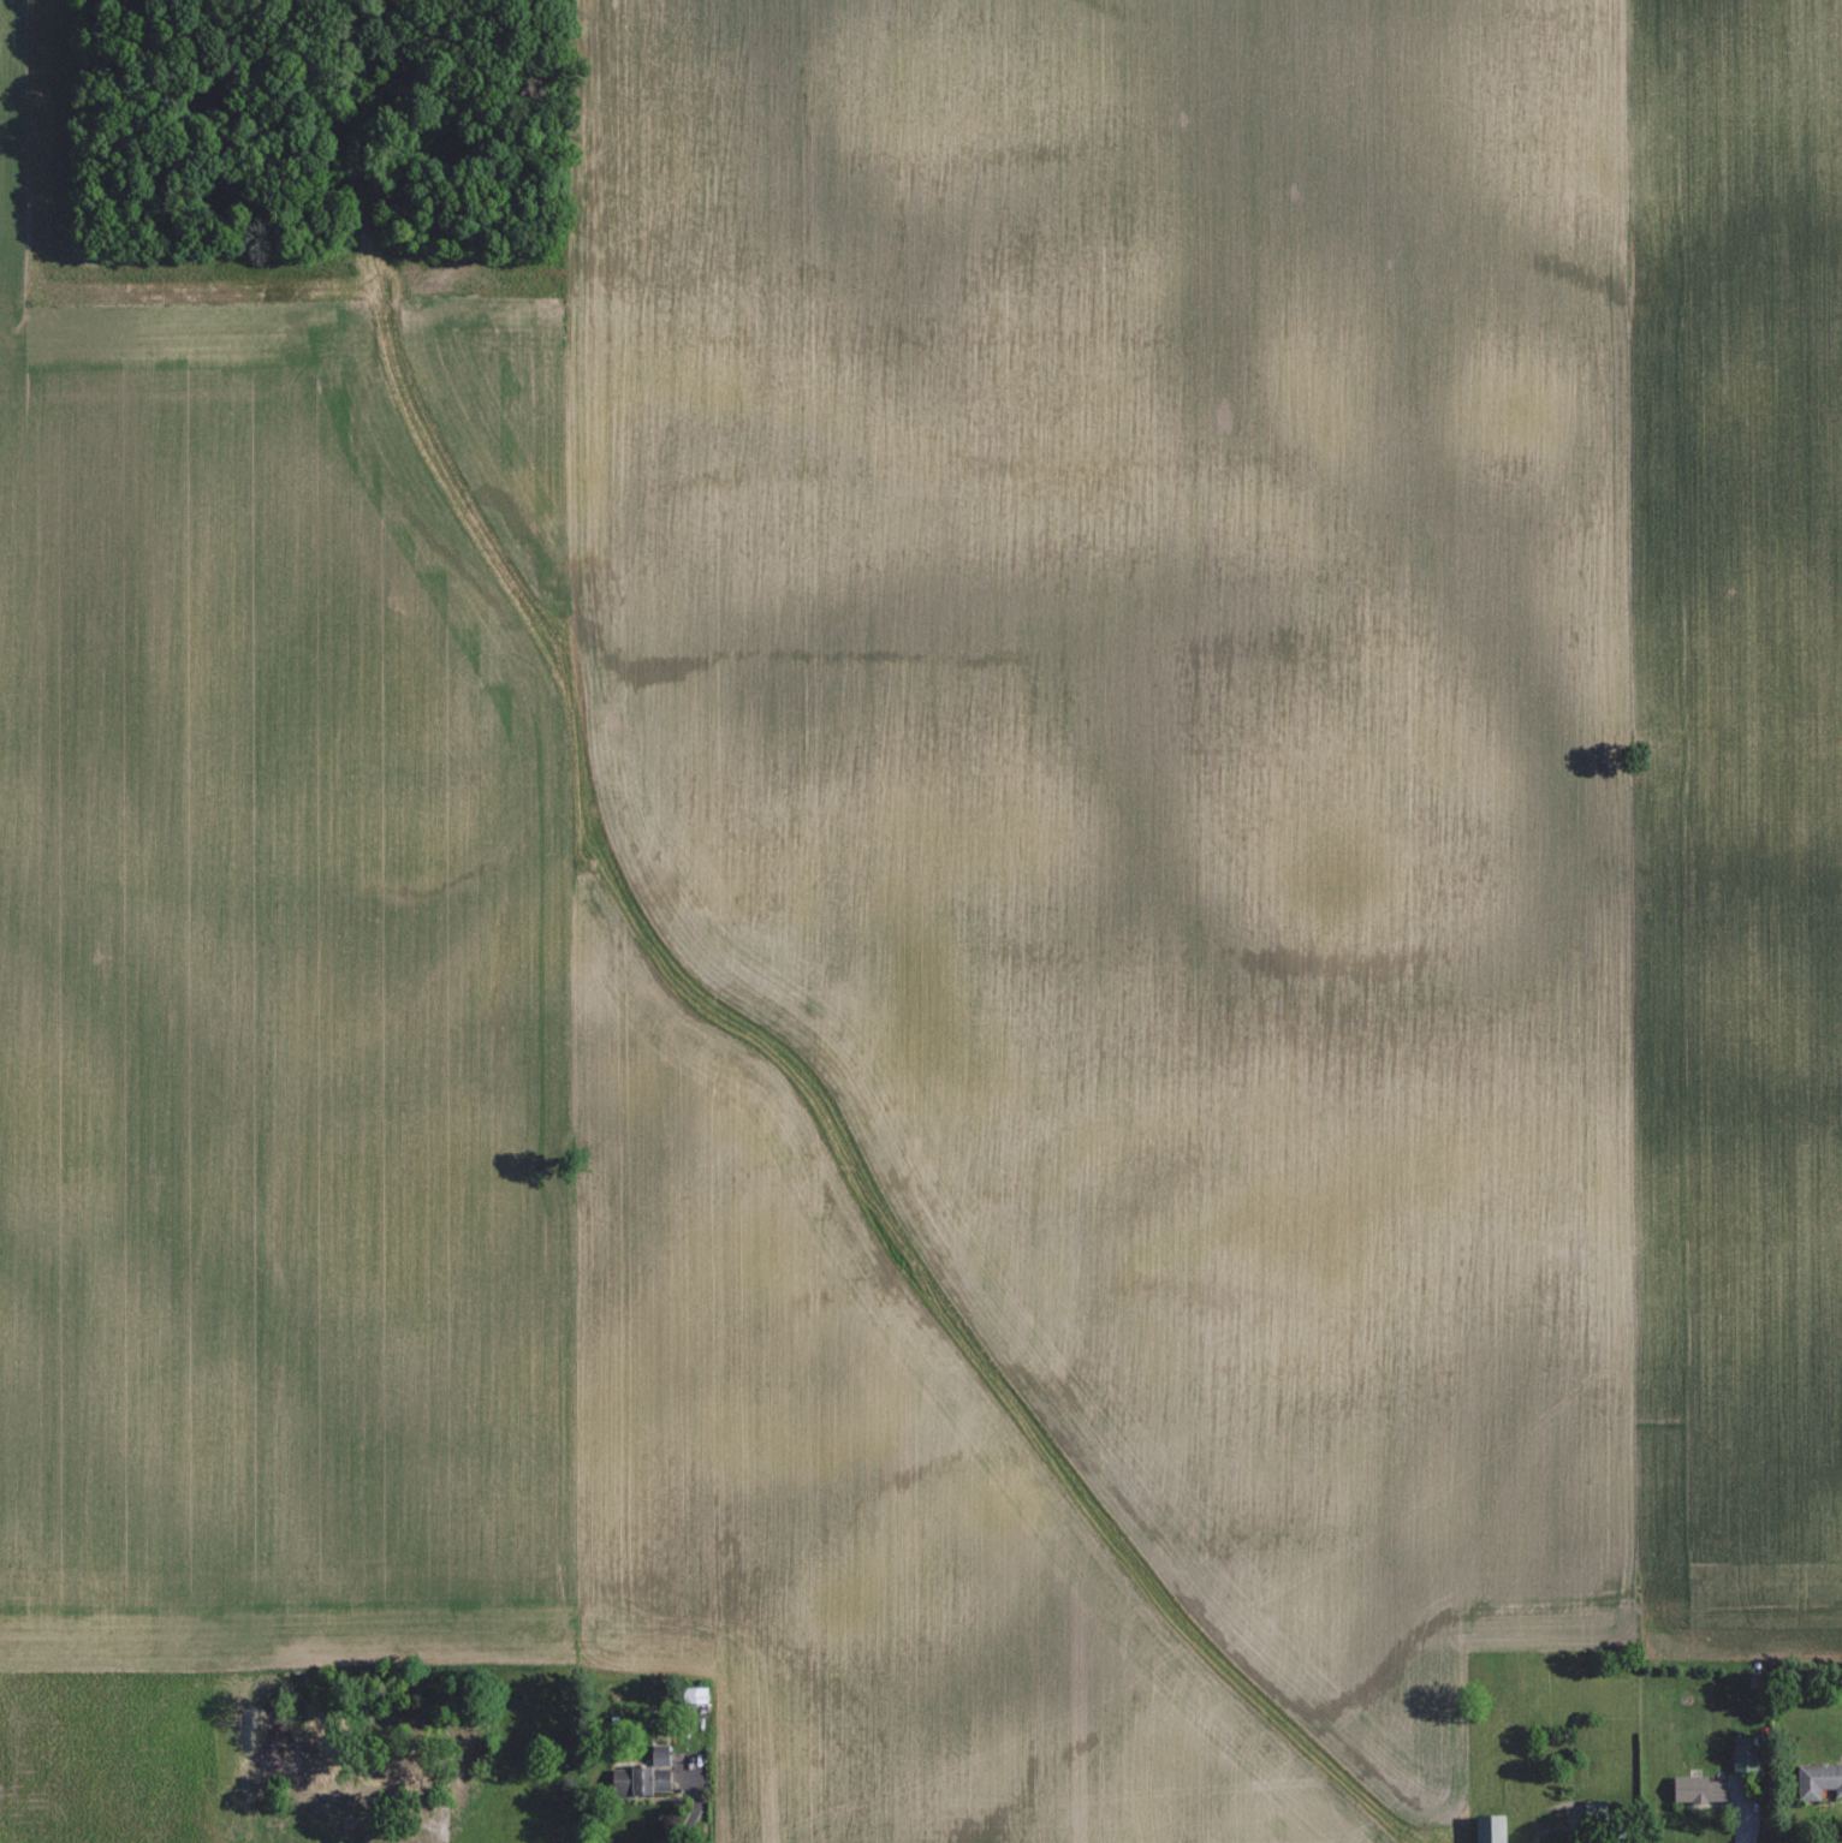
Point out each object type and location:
building: (267, 1756)
building: (1742, 1758)
building: (642, 1774)
building: (1818, 1778)
building: (1695, 1788)
building: (1486, 1829)

